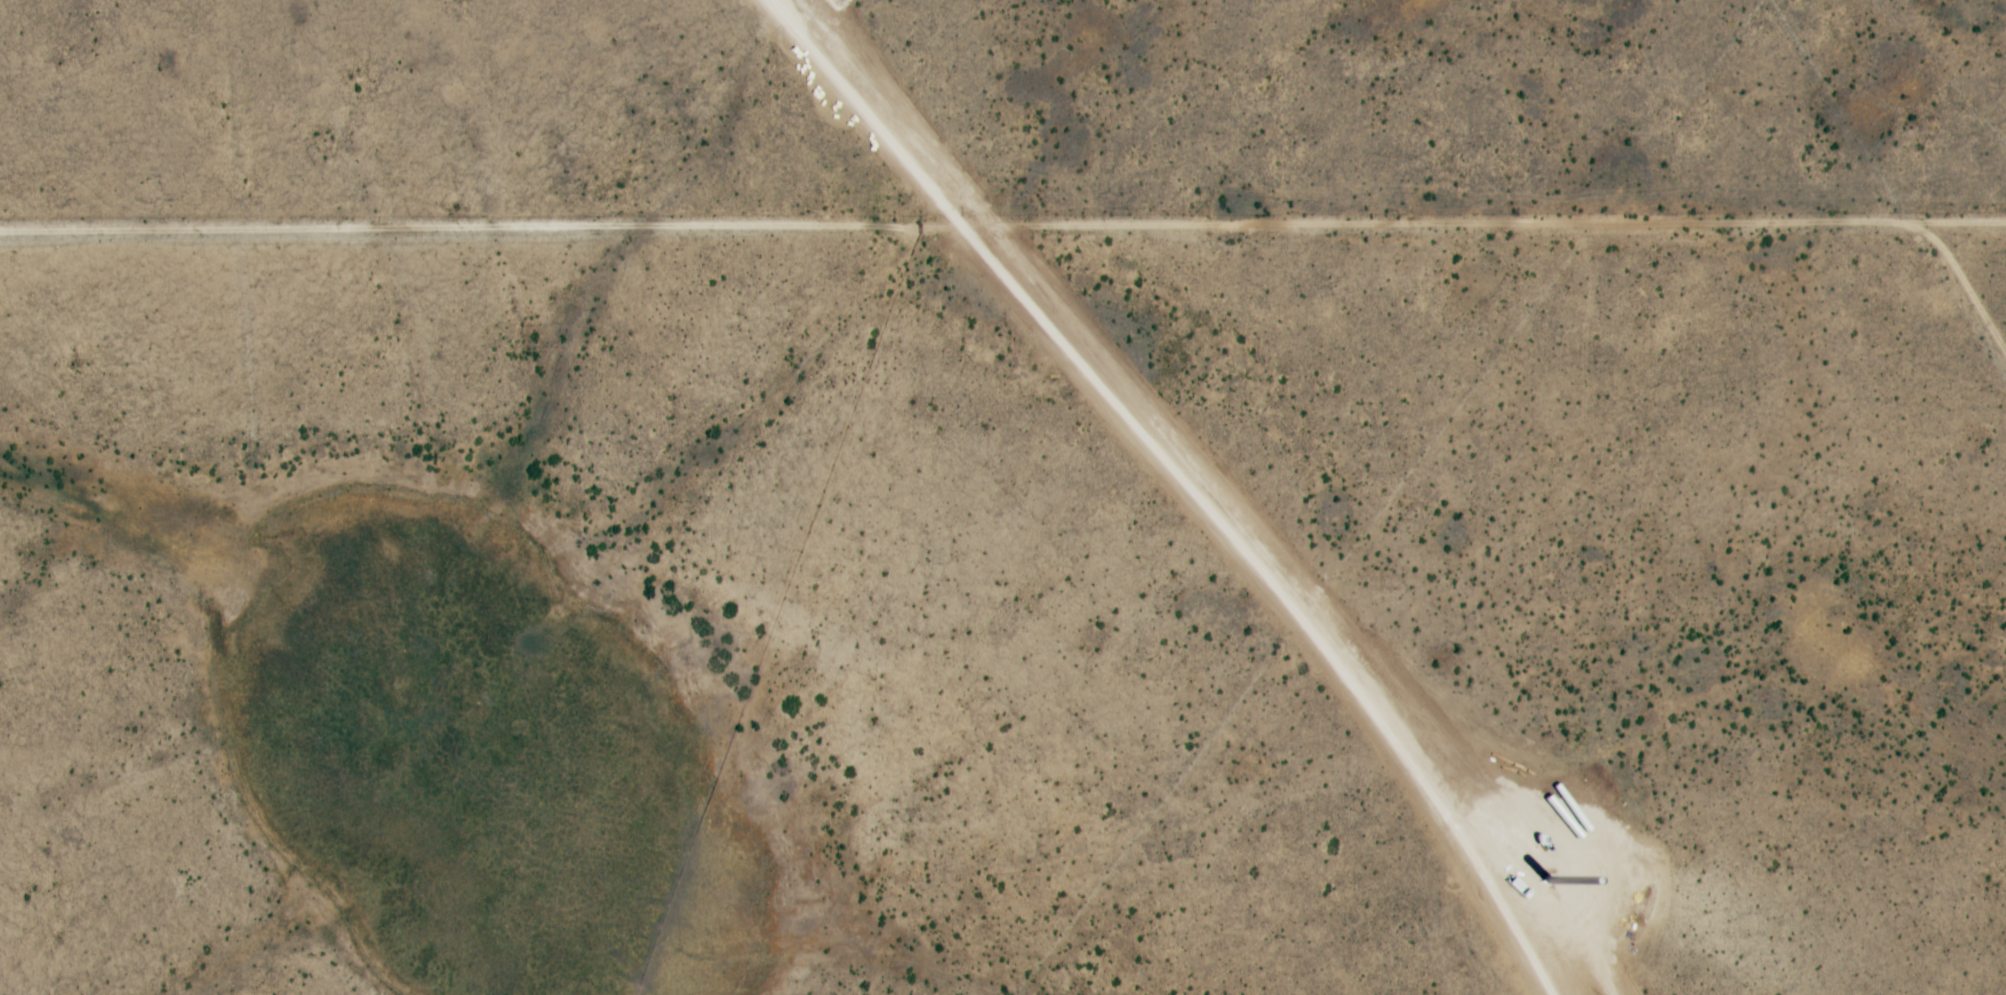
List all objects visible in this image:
wind turbine: (1536, 875)

